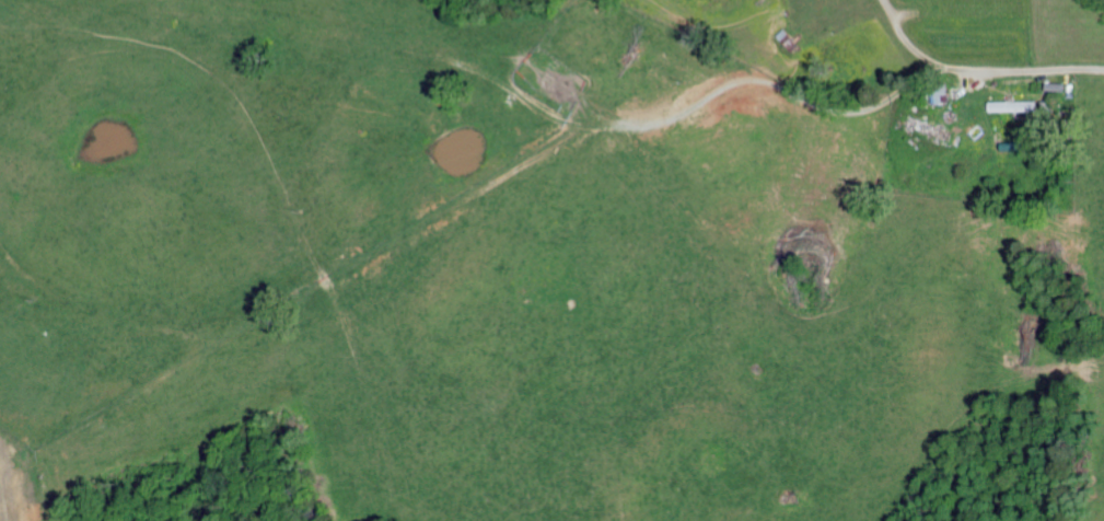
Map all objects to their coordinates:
building: (937, 92)

